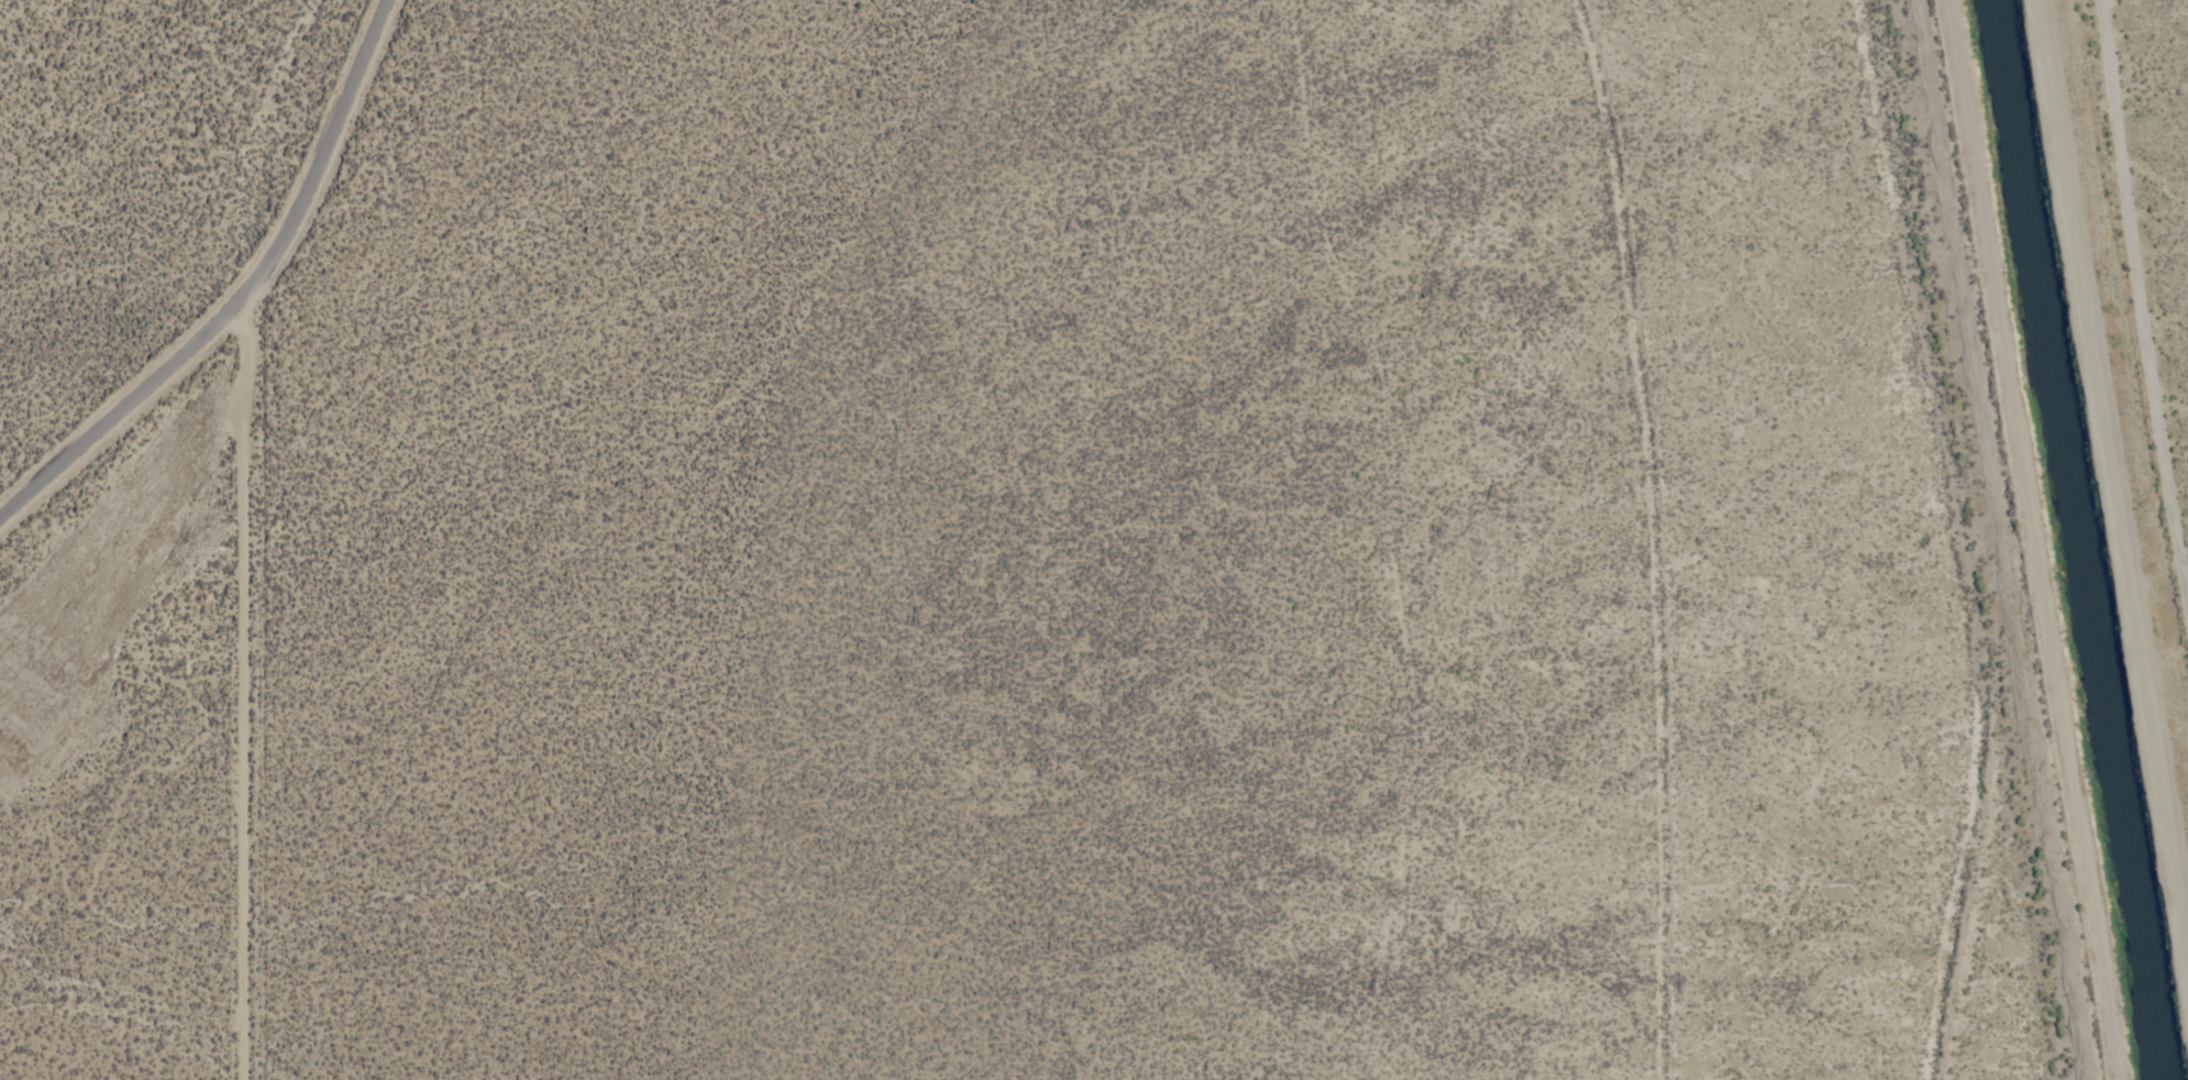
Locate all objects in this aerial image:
road: (244, 295)
road: (2142, 306)
road: (2117, 444)
road: (2038, 539)
road: (252, 682)

